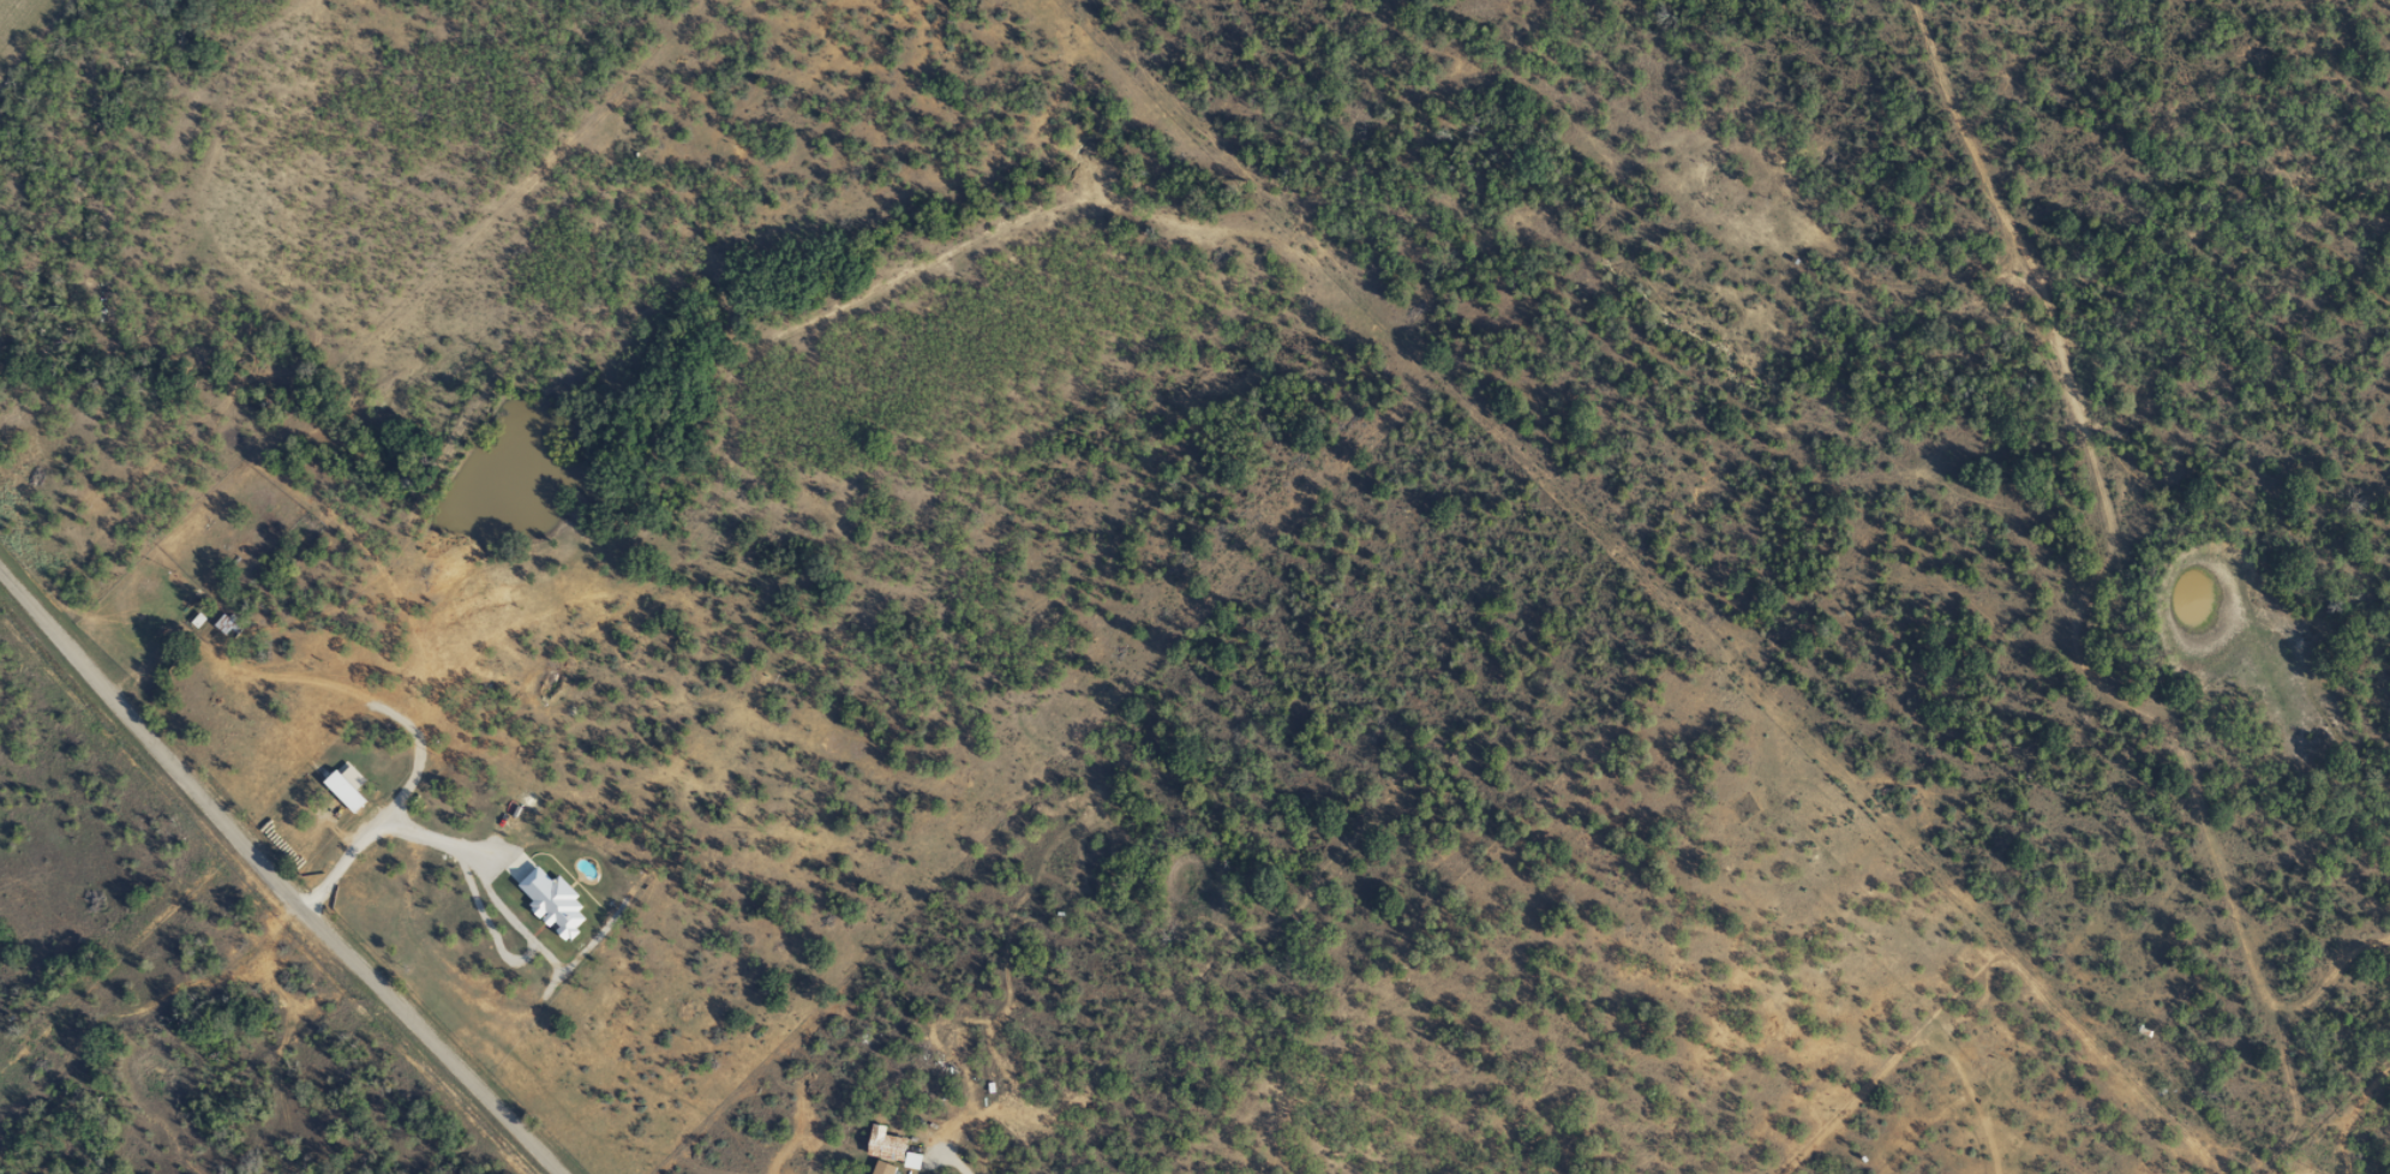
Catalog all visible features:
building: (340, 791)
road: (263, 899)
building: (880, 1144)
building: (877, 1168)

